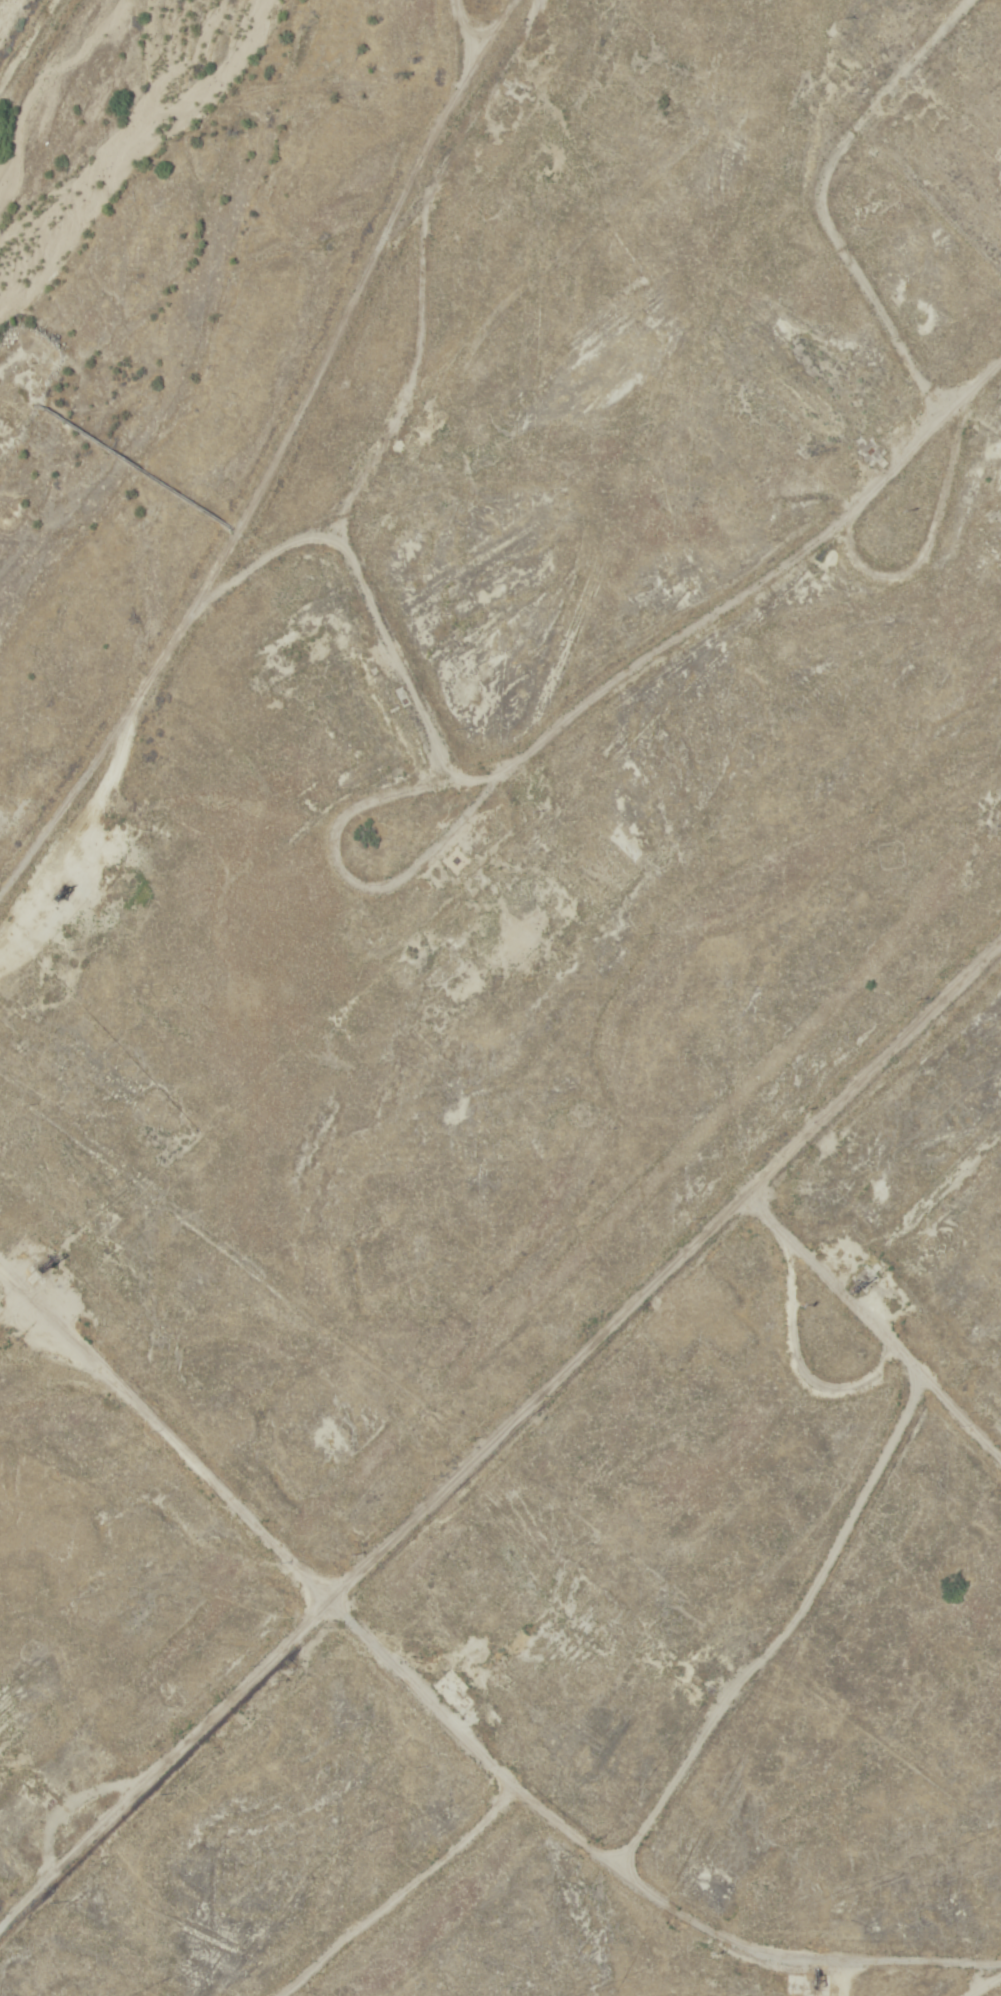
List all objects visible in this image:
road: (468, 25)
river: (79, 113)
road: (832, 241)
road: (255, 473)
road: (717, 601)
road: (1, 1282)
road: (867, 1316)
road: (498, 1420)
road: (446, 1723)
road: (385, 1893)
road: (975, 1981)

